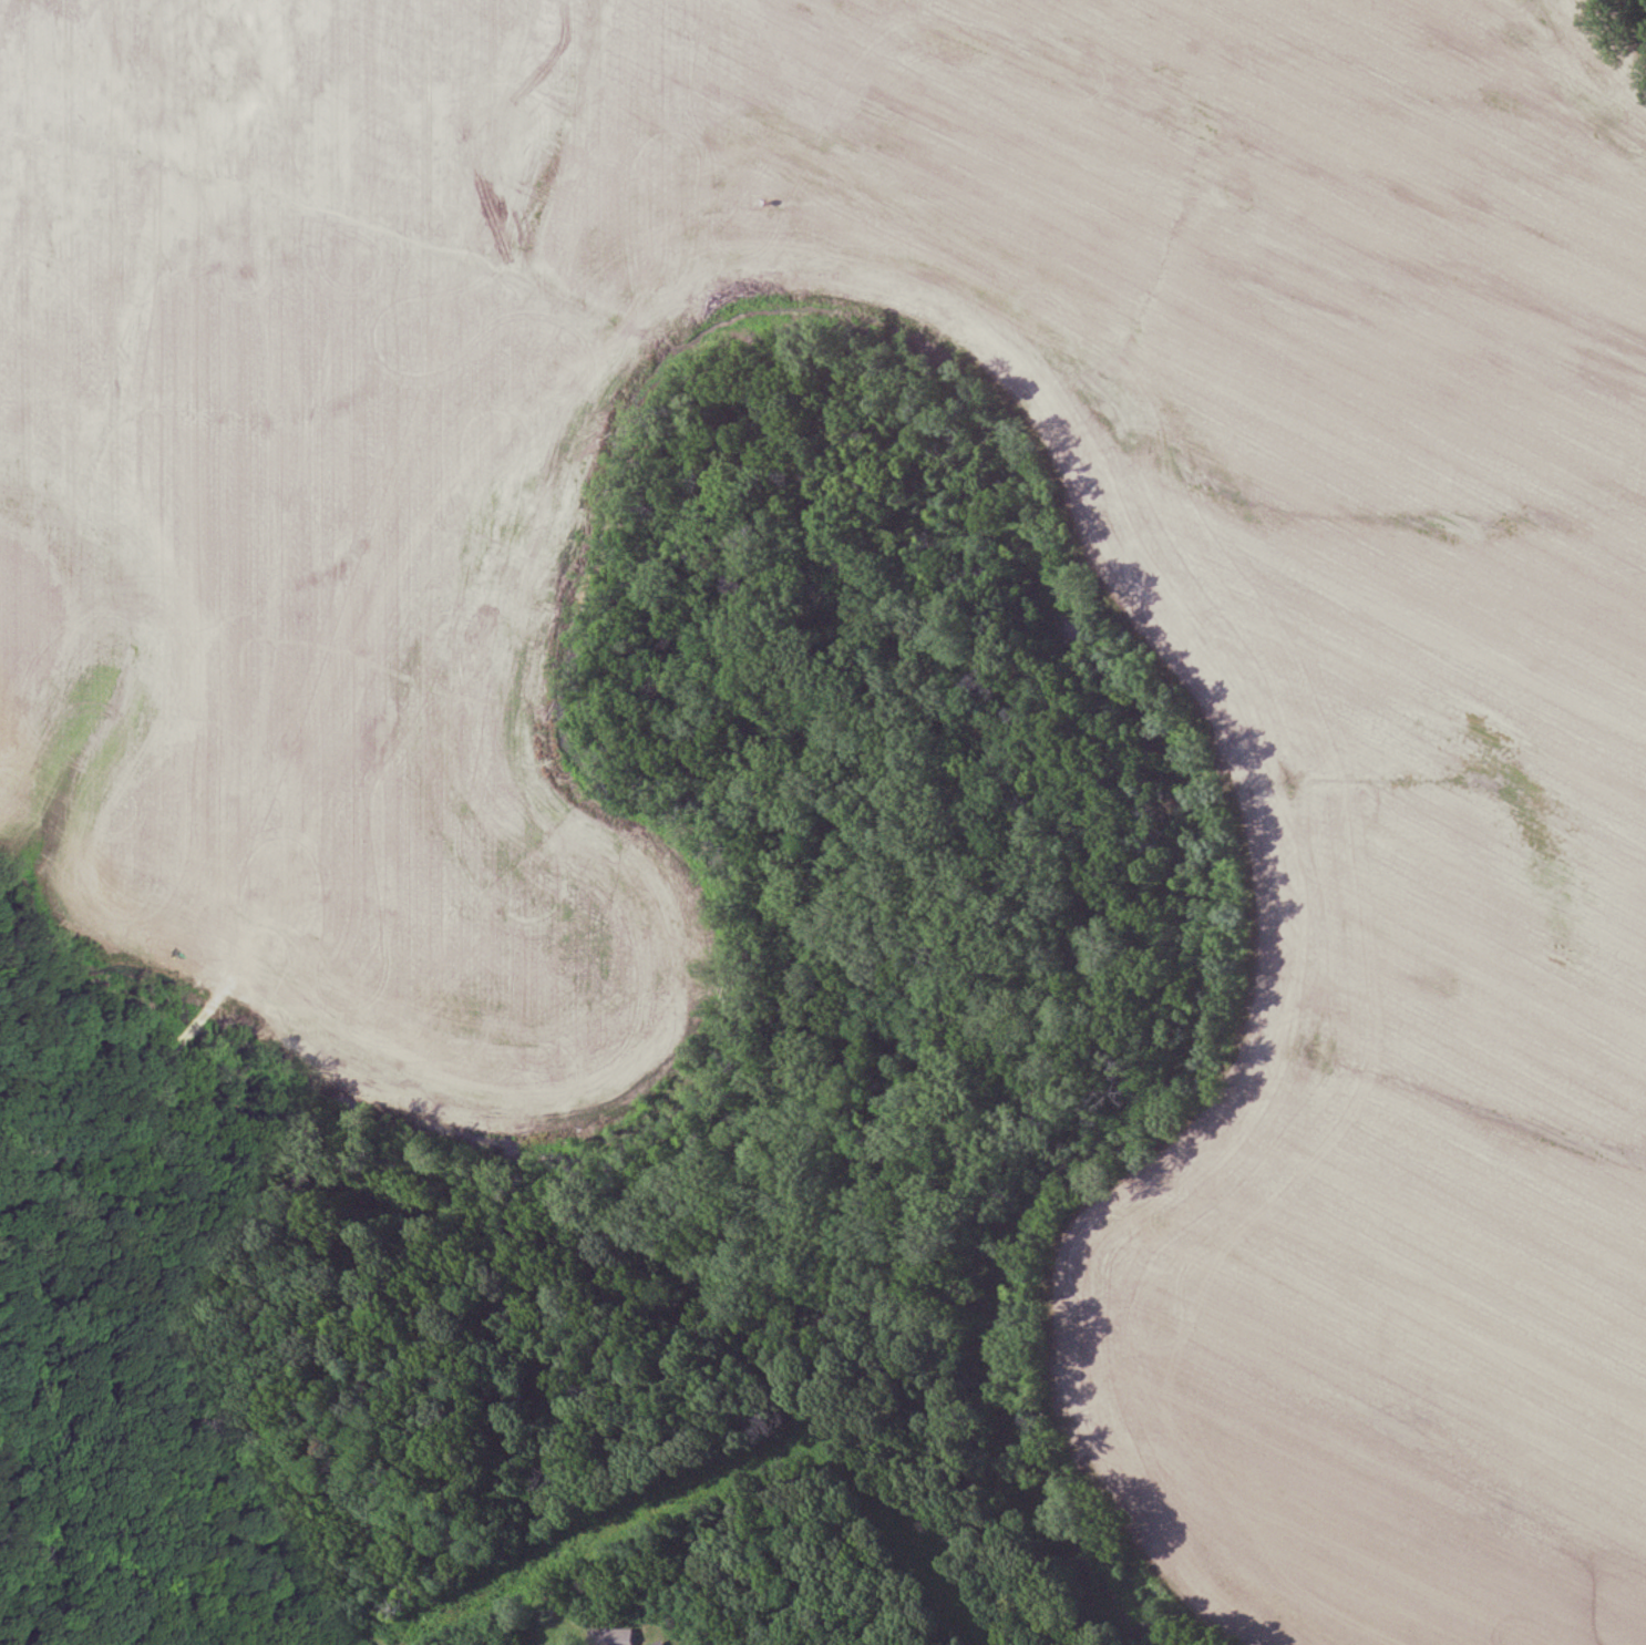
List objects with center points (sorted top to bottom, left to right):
crop: (323, 822)
park: (823, 822)
road: (579, 1279)
building: (614, 1636)
building: (662, 1643)

